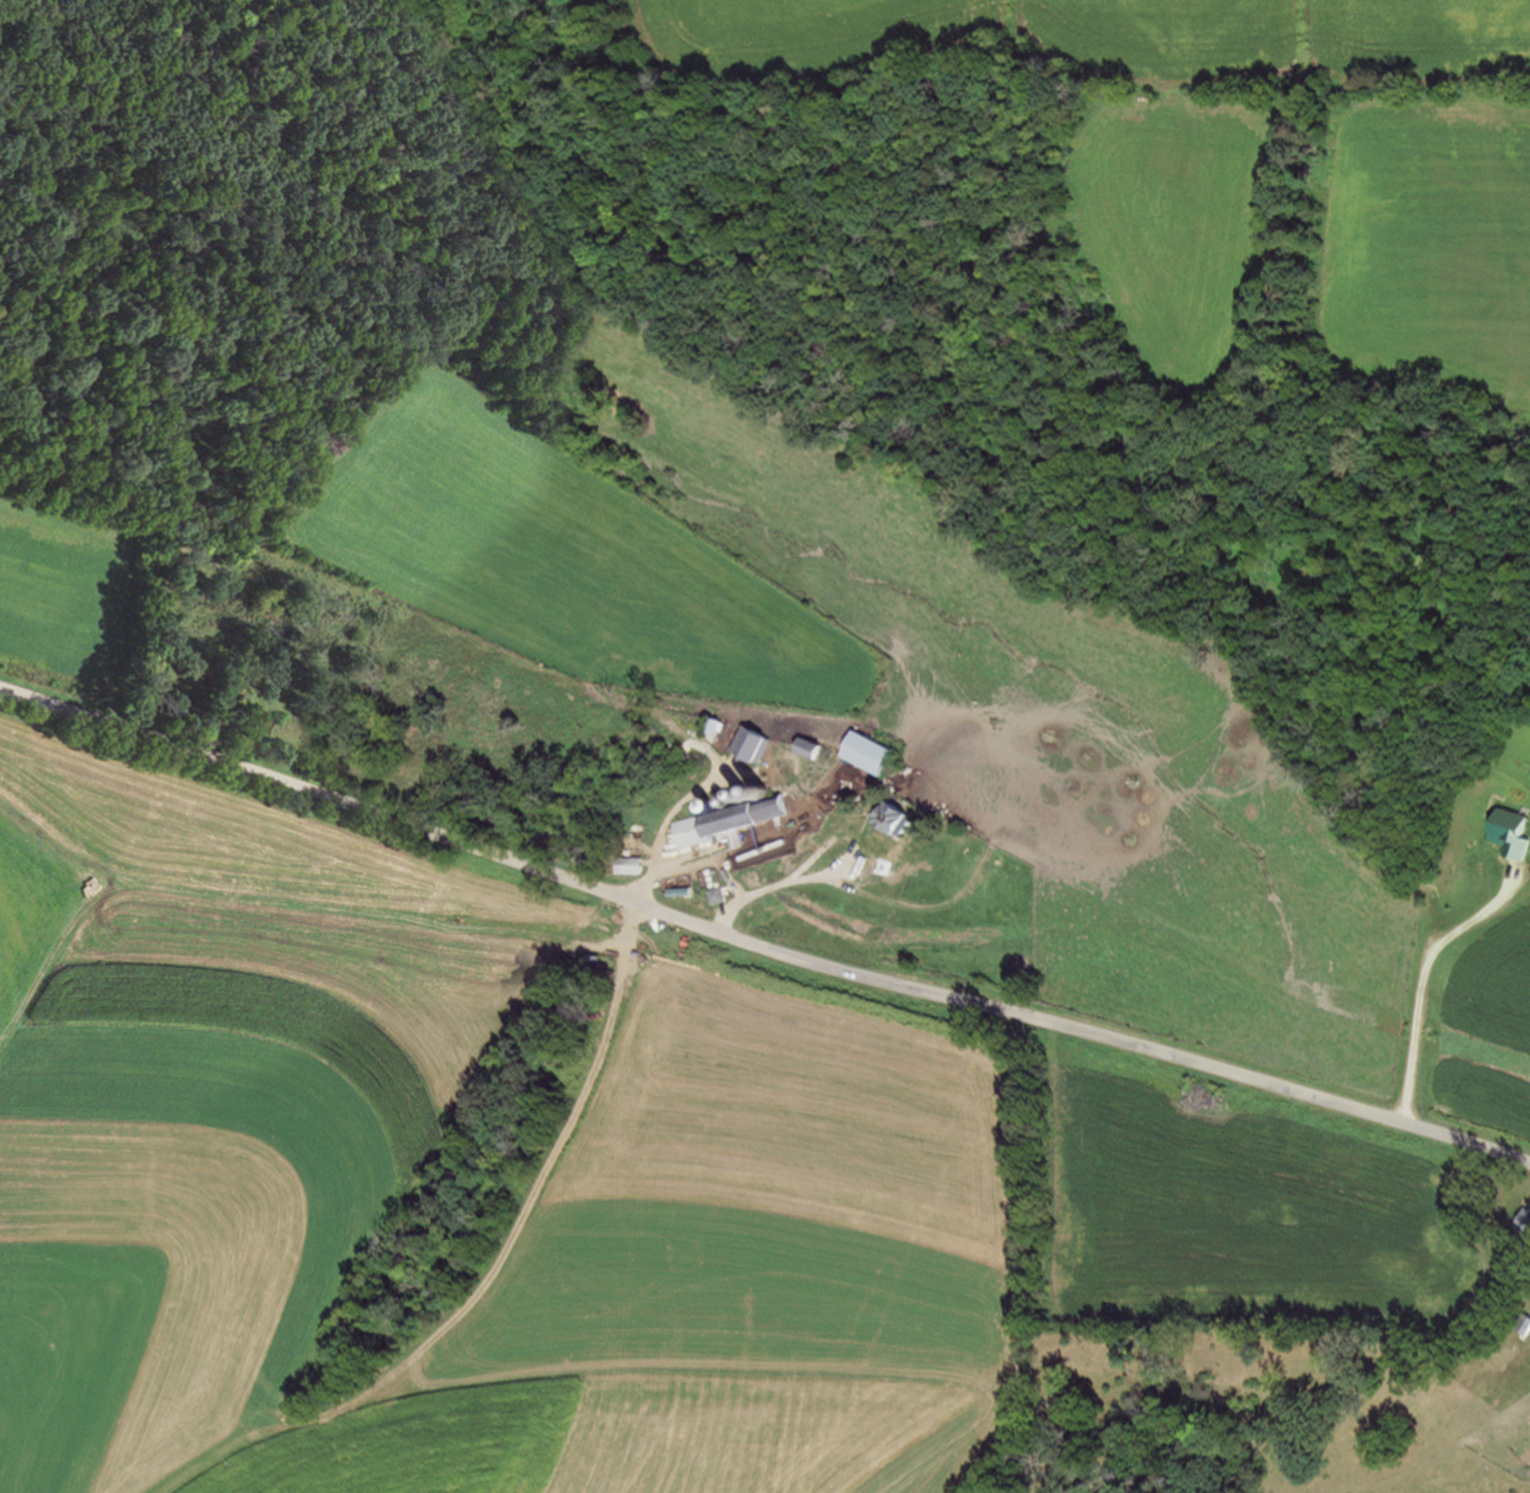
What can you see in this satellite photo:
building: (717, 725)
building: (756, 742)
building: (815, 747)
building: (870, 753)
road: (714, 781)
building: (737, 818)
building: (898, 818)
building: (1511, 831)
road: (689, 854)
road: (703, 862)
building: (631, 864)
road: (835, 874)
building: (717, 894)
road: (758, 945)
road: (1422, 971)
building: (1523, 1222)
road: (516, 1224)
building: (1514, 1393)

